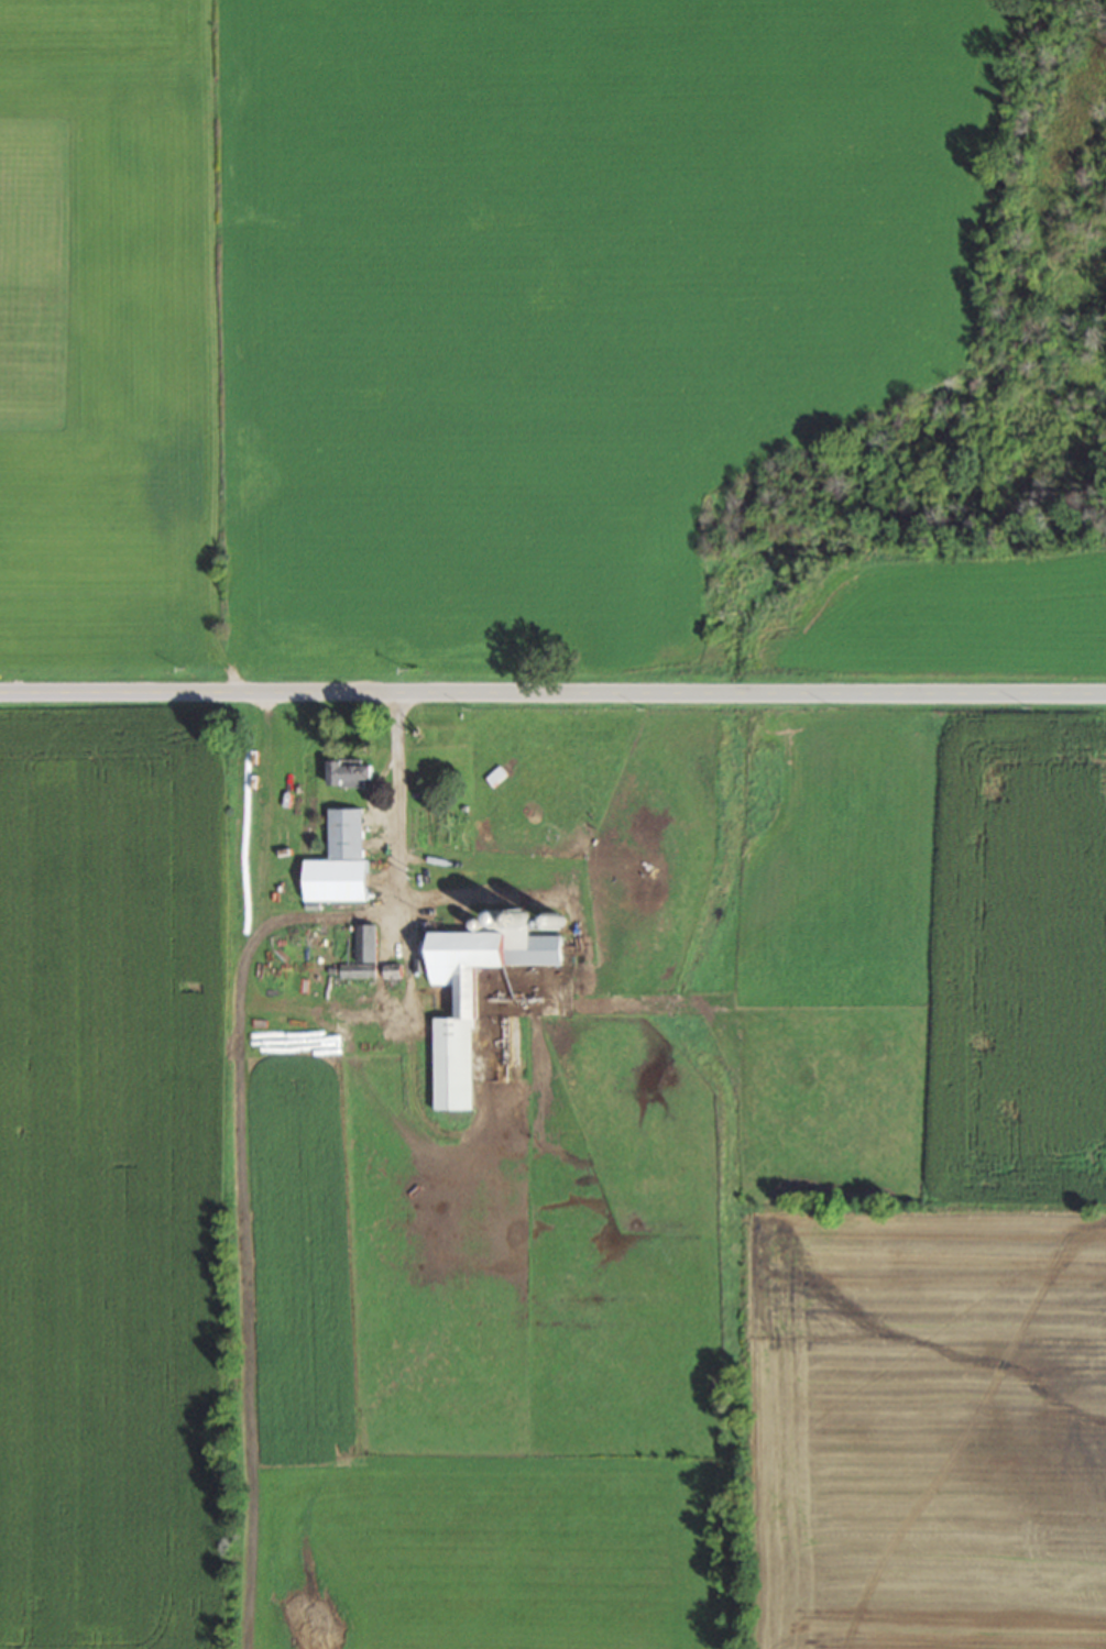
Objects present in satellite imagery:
road: (552, 692)
building: (351, 770)
road: (395, 812)
building: (341, 859)
building: (366, 941)
building: (359, 968)
building: (394, 969)
building: (473, 994)

